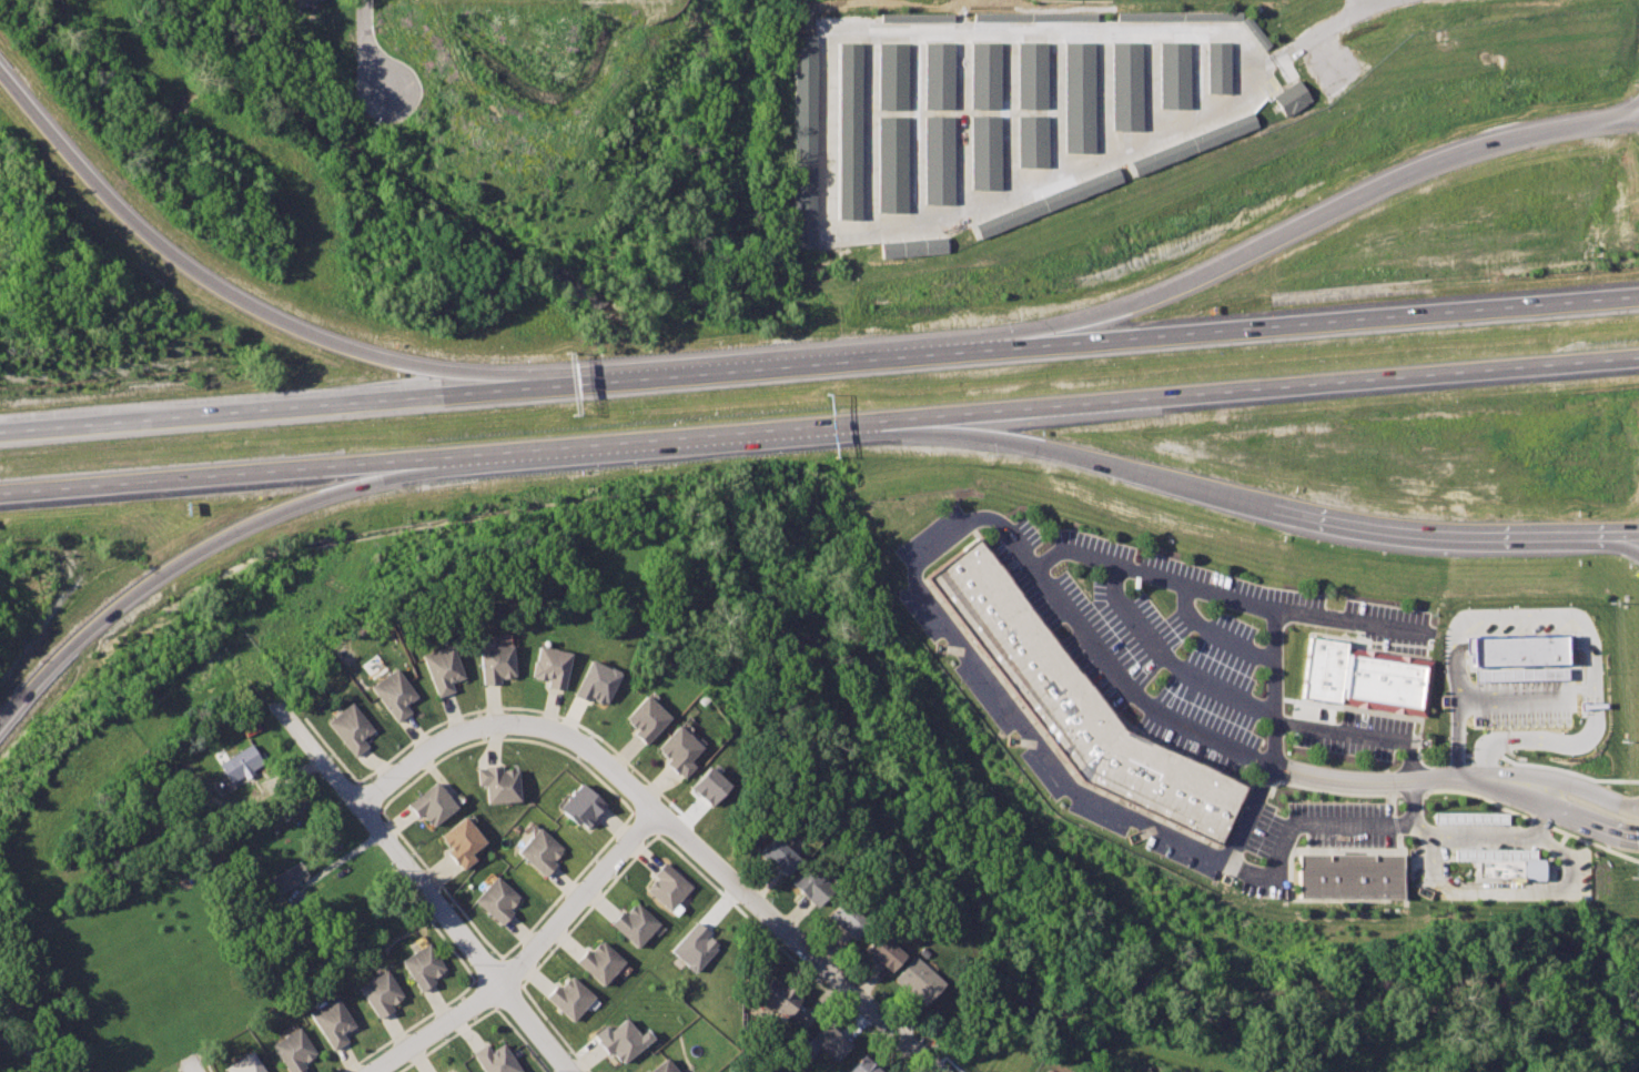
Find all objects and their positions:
building: (306, 0)
road: (1367, 2)
building: (1032, 16)
building: (912, 17)
road: (1337, 23)
road: (361, 24)
building: (1217, 59)
building: (1174, 64)
building: (1126, 79)
building: (1078, 88)
building: (1291, 93)
building: (1030, 94)
building: (982, 109)
road: (397, 111)
building: (934, 112)
road: (1632, 112)
building: (886, 118)
building: (842, 121)
building: (799, 135)
building: (1191, 142)
building: (1044, 199)
road: (1325, 214)
building: (912, 245)
road: (214, 285)
road: (1331, 320)
road: (761, 368)
road: (1254, 392)
road: (250, 412)
road: (636, 442)
road: (1074, 451)
road: (202, 475)
road: (1002, 525)
road: (1618, 530)
road: (1434, 537)
road: (1618, 539)
road: (182, 564)
road: (1224, 588)
road: (1487, 614)
road: (1212, 628)
building: (1531, 649)
road: (1166, 654)
building: (494, 663)
parking lot: (1163, 665)
building: (548, 666)
building: (442, 669)
building: (1387, 680)
building: (594, 681)
building: (392, 694)
road: (1528, 698)
building: (1074, 702)
road: (1599, 705)
road: (529, 708)
building: (644, 719)
road: (510, 724)
building: (350, 727)
road: (1357, 731)
road: (1266, 737)
road: (506, 738)
road: (1536, 740)
road: (330, 748)
building: (677, 750)
building: (239, 762)
road: (283, 776)
road: (1470, 778)
road: (1483, 782)
building: (496, 783)
building: (708, 785)
road: (1562, 789)
road: (1503, 793)
road: (366, 796)
road: (641, 799)
building: (429, 803)
building: (578, 806)
road: (1631, 806)
road: (688, 815)
building: (1470, 817)
road: (1424, 821)
road: (1542, 821)
road: (643, 822)
road: (1321, 823)
road: (1592, 829)
road: (1486, 837)
building: (459, 841)
building: (538, 851)
building: (777, 856)
road: (335, 861)
building: (1511, 869)
park: (1132, 873)
building: (1346, 876)
building: (285, 878)
road: (438, 884)
road: (567, 884)
road: (425, 886)
building: (667, 886)
building: (807, 886)
road: (1509, 888)
building: (495, 900)
road: (587, 909)
building: (844, 919)
building: (634, 924)
road: (797, 941)
road: (449, 947)
building: (694, 947)
road: (779, 947)
building: (881, 951)
road: (525, 952)
building: (599, 962)
building: (419, 967)
road: (486, 968)
road: (510, 970)
building: (917, 980)
building: (377, 993)
road: (484, 993)
road: (507, 995)
building: (778, 997)
building: (568, 998)
building: (330, 1022)
road: (406, 1027)
road: (555, 1028)
road: (24, 1039)
road: (446, 1039)
road: (524, 1039)
building: (623, 1039)
building: (828, 1042)
building: (291, 1050)
road: (890, 1055)
building: (497, 1060)
road: (33, 1061)
road: (205, 1064)
building: (244, 1064)
building: (662, 1066)
building: (861, 1066)
road: (192, 1068)
building: (455, 1071)

